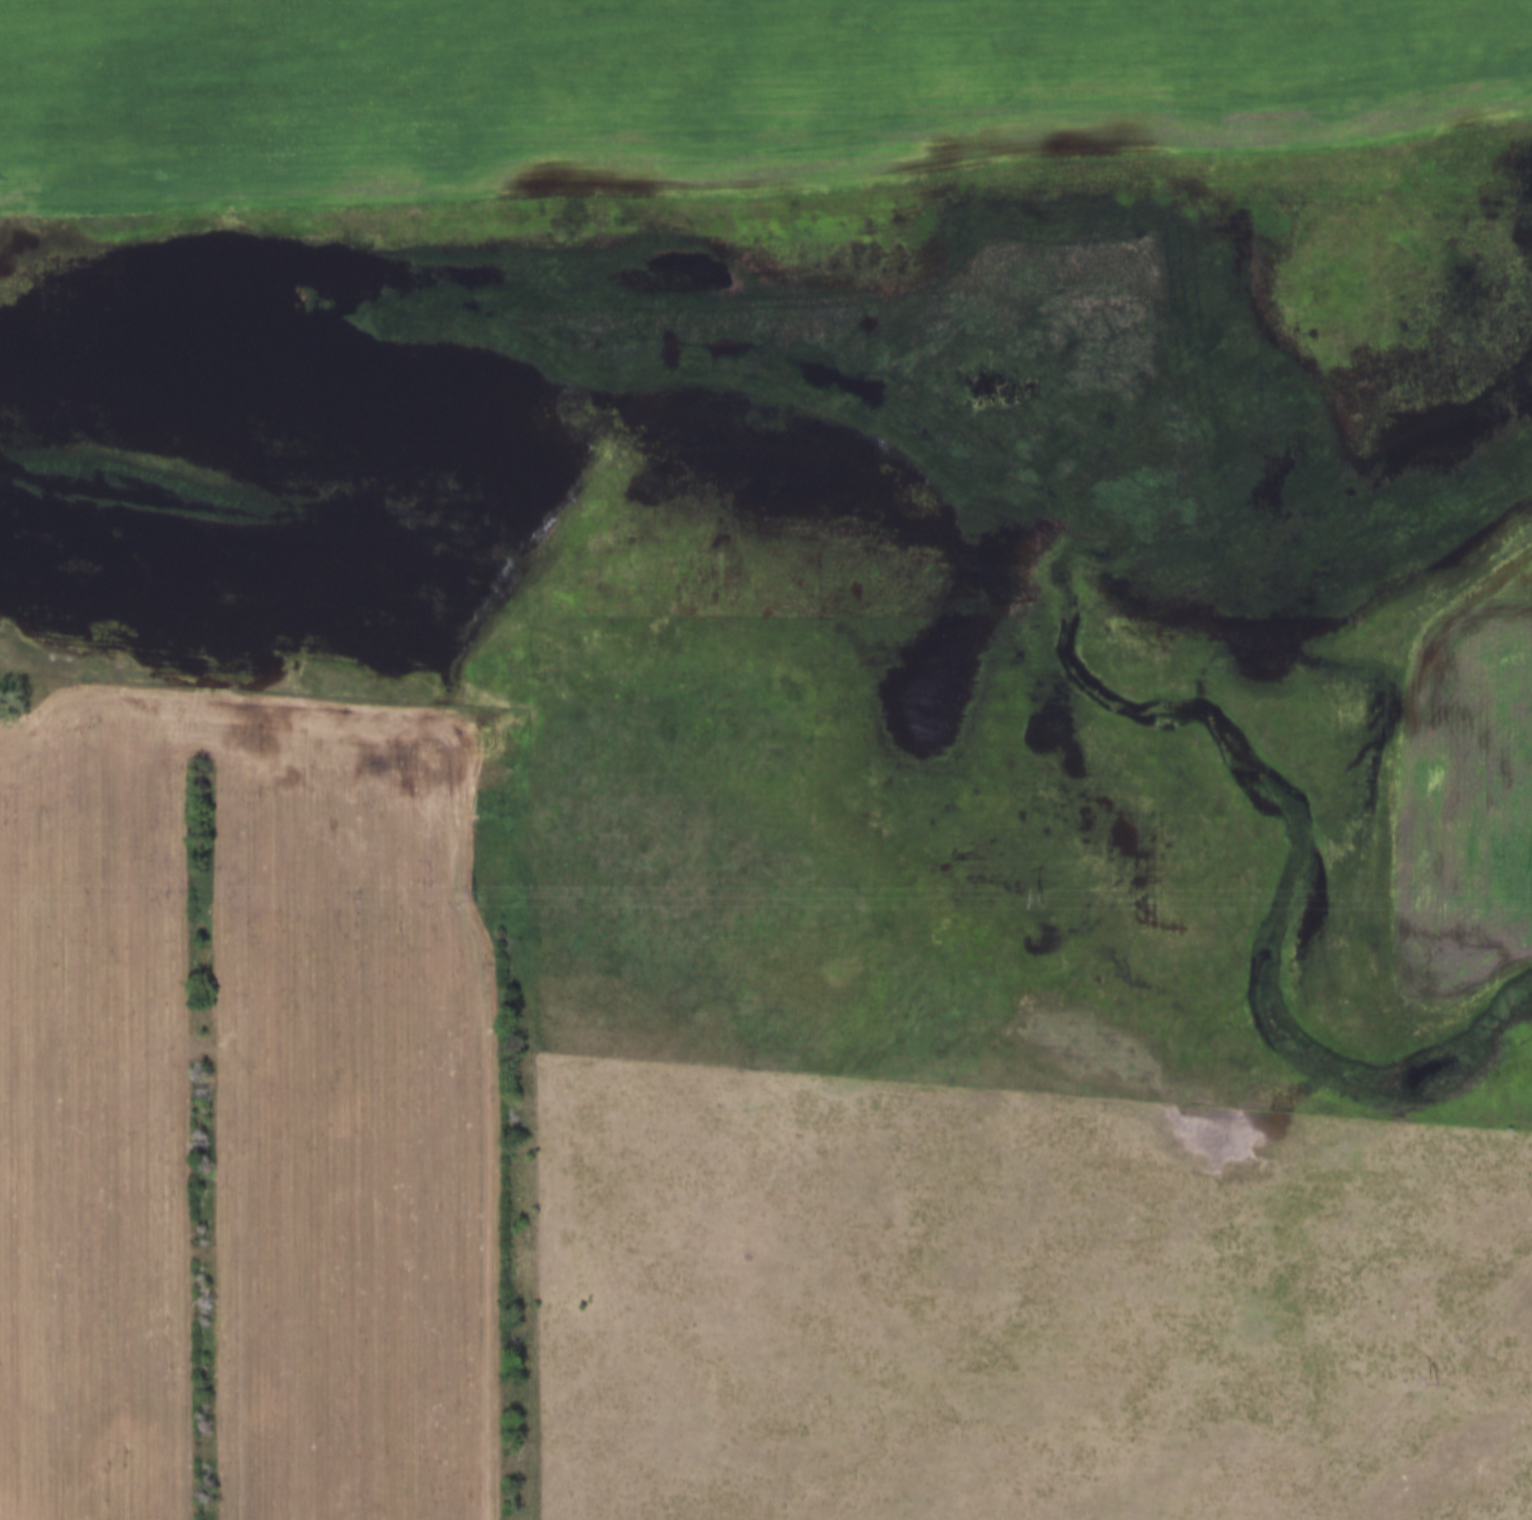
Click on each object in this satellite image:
power tower: (1431, 1381)

